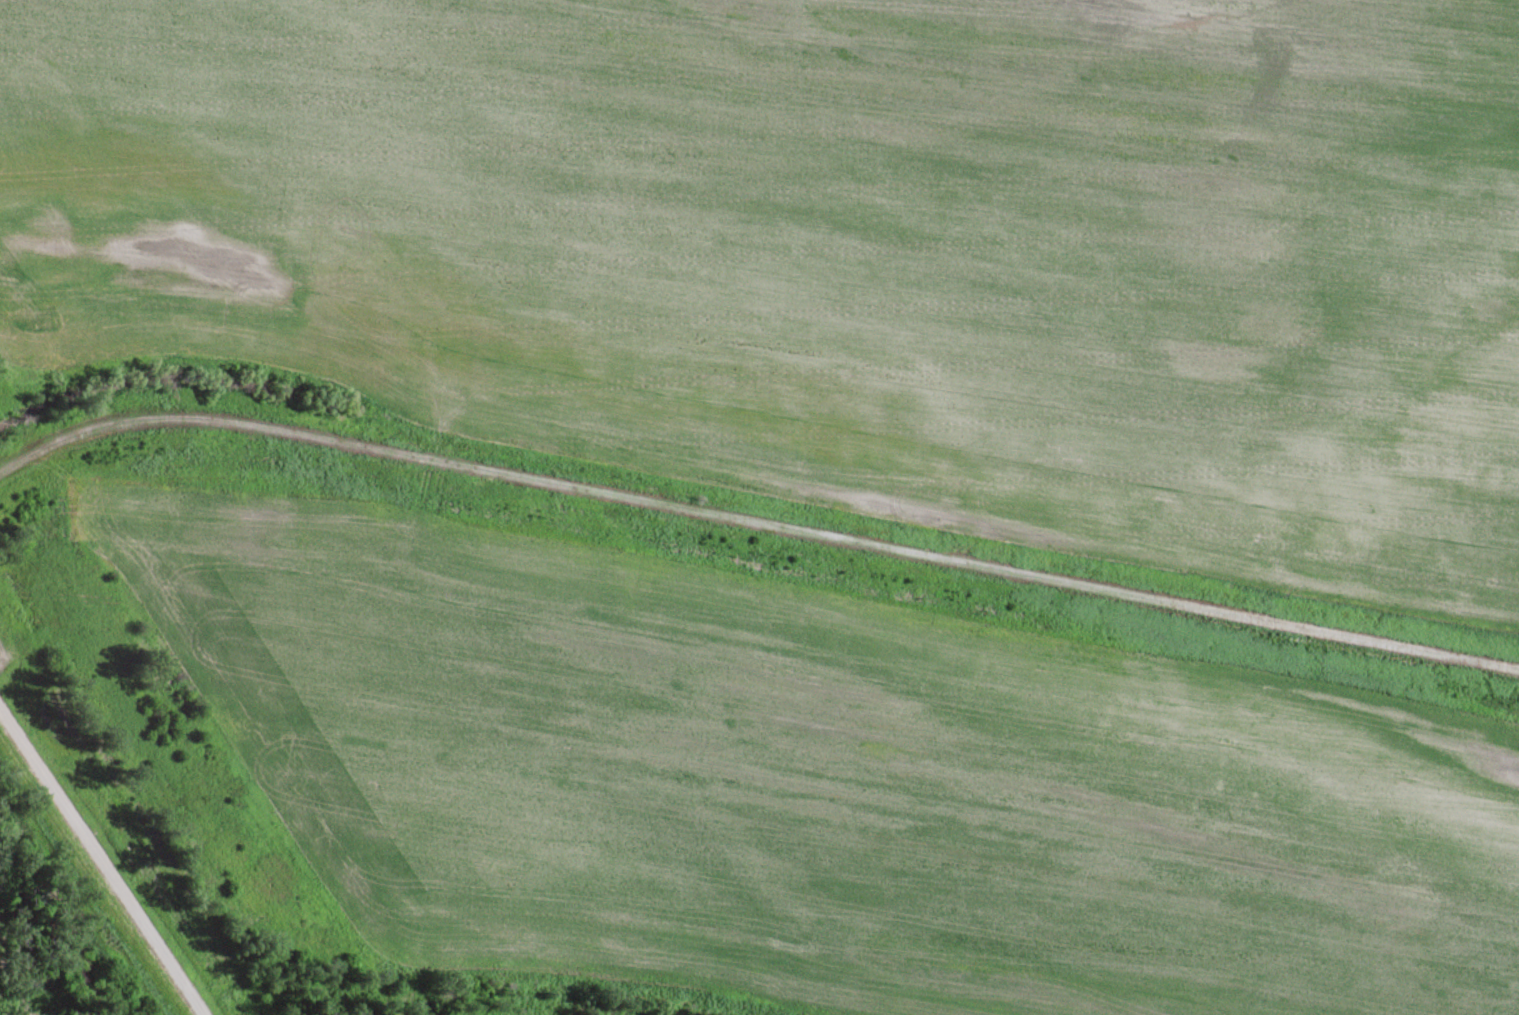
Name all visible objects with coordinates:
road: (101, 862)

